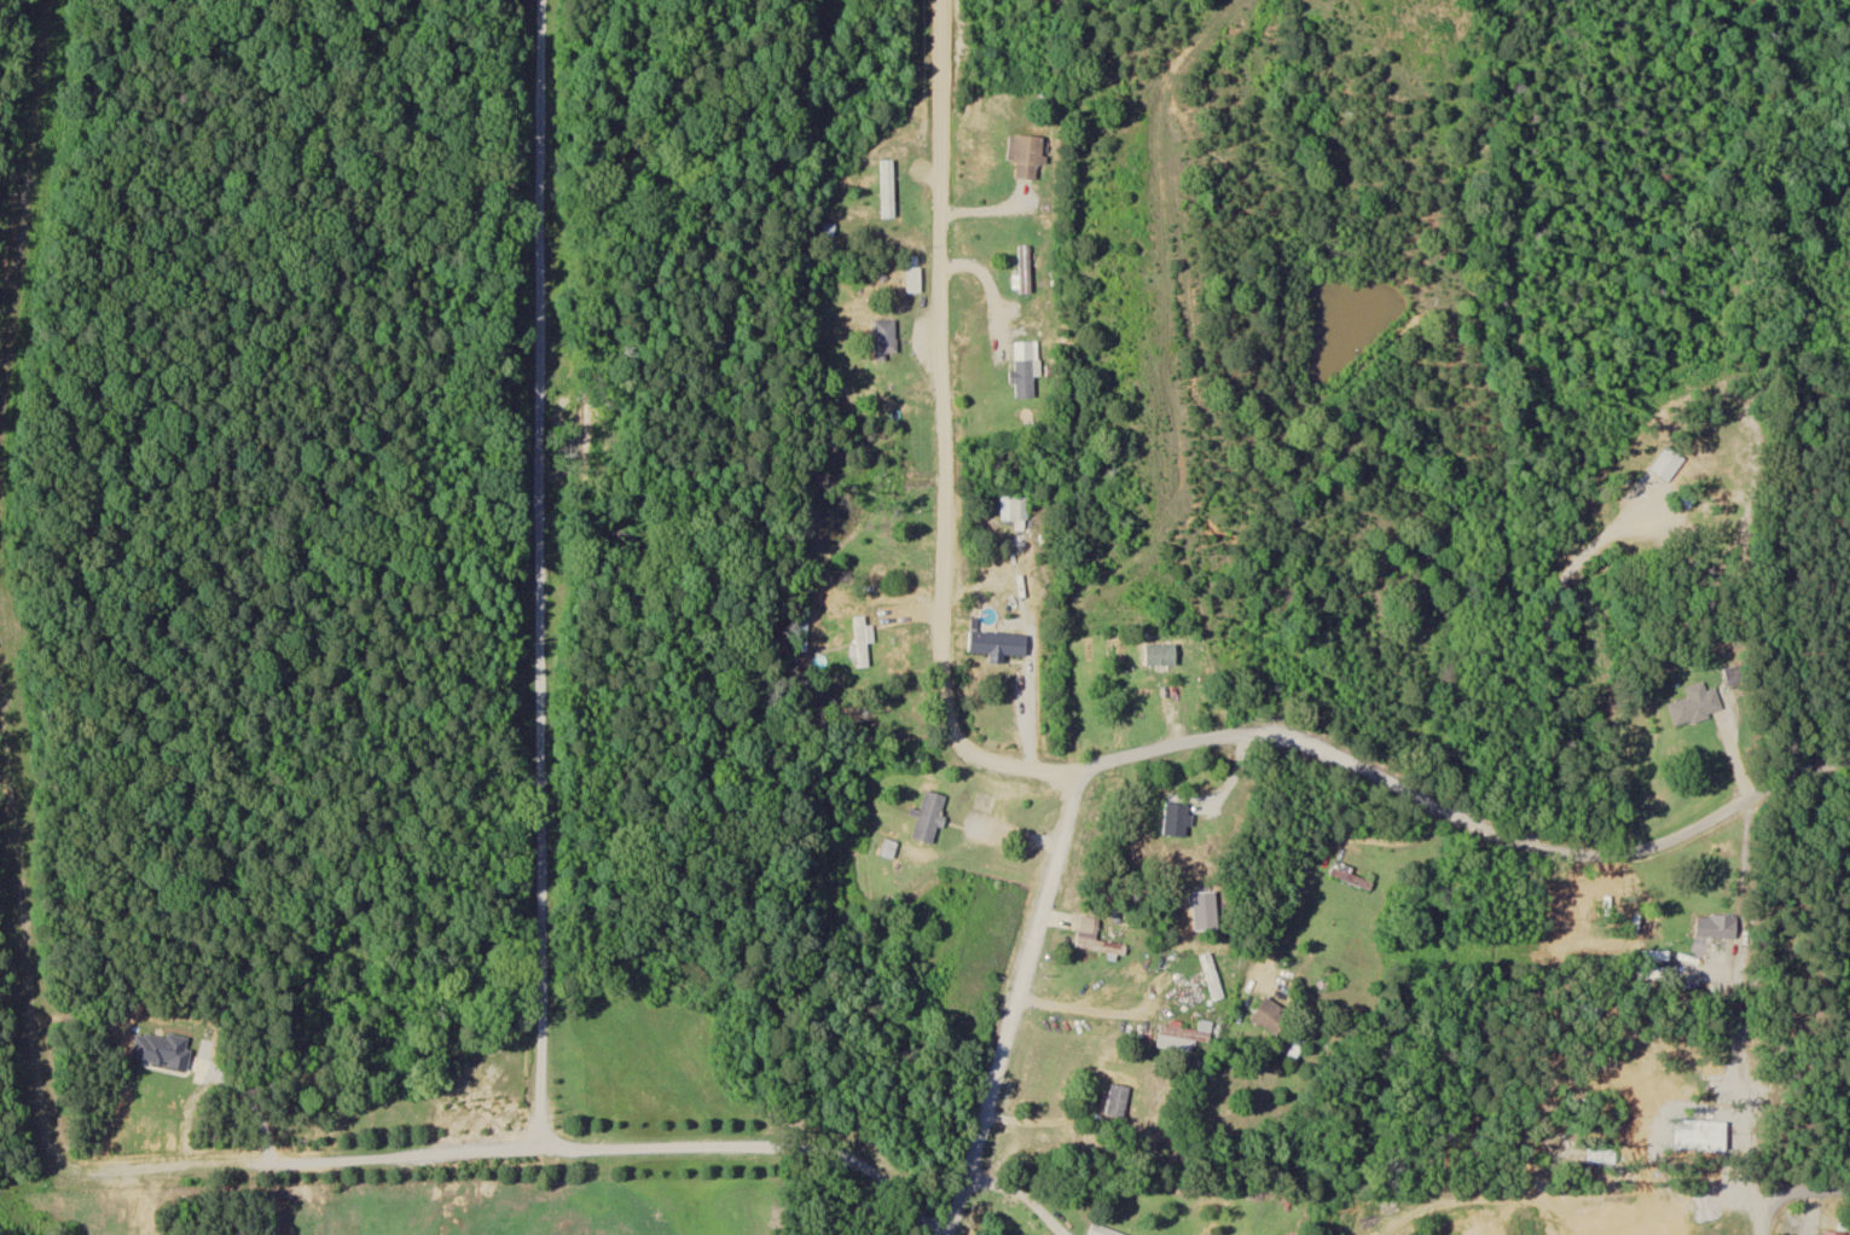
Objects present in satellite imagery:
building: (1026, 155)
building: (888, 189)
building: (886, 337)
building: (1023, 378)
road: (943, 434)
building: (1019, 508)
building: (1640, 523)
building: (863, 640)
building: (1160, 692)
building: (1697, 705)
building: (929, 817)
building: (1177, 818)
road: (1465, 818)
building: (889, 841)
building: (1351, 877)
building: (1086, 926)
road: (1034, 927)
building: (1717, 927)
building: (1101, 946)
building: (1205, 949)
road: (1753, 1016)
building: (1274, 1017)
building: (1184, 1037)
building: (1118, 1101)
road: (970, 1158)
road: (1800, 1189)
building: (1844, 1224)
building: (1101, 1231)
building: (1833, 1233)

